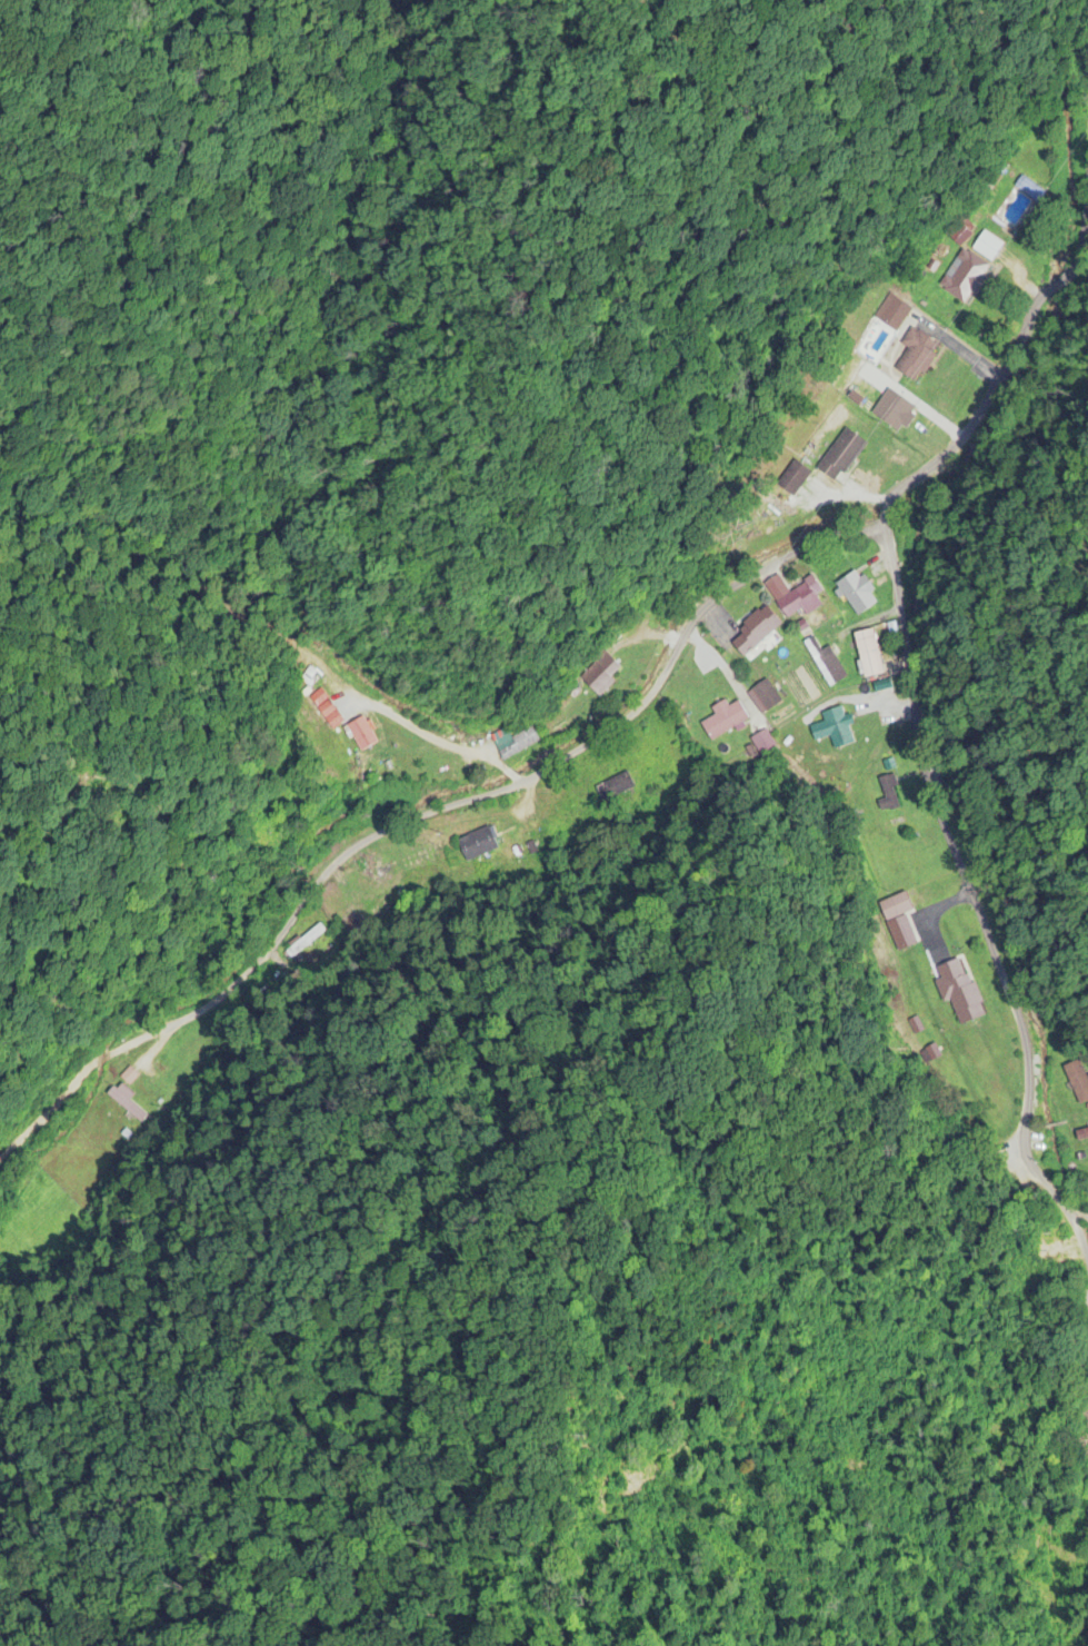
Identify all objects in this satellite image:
building: (957, 234)
building: (986, 247)
building: (962, 277)
building: (915, 356)
road: (941, 389)
building: (896, 414)
building: (839, 457)
building: (792, 479)
building: (855, 595)
building: (800, 601)
building: (755, 632)
building: (867, 655)
building: (826, 664)
building: (599, 673)
building: (725, 722)
building: (832, 728)
building: (361, 733)
building: (516, 743)
building: (888, 792)
road: (448, 821)
building: (475, 849)
building: (897, 921)
building: (958, 990)
road: (975, 992)
building: (1077, 1081)
building: (130, 1103)
building: (1081, 1136)

